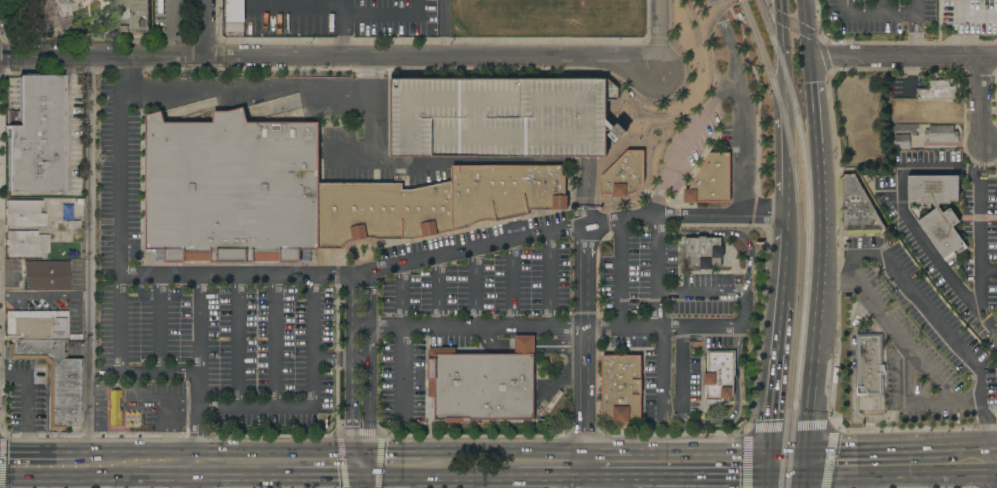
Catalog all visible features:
parking lot: (698, 3)
road: (880, 8)
road: (915, 8)
building: (235, 11)
building: (47, 14)
building: (131, 16)
road: (386, 16)
road: (873, 16)
building: (970, 16)
parking lot: (970, 16)
road: (972, 16)
parking lot: (884, 18)
road: (706, 19)
road: (341, 20)
road: (646, 20)
road: (790, 22)
road: (168, 28)
road: (206, 28)
building: (234, 29)
road: (806, 29)
road: (658, 32)
road: (915, 35)
road: (341, 40)
road: (962, 45)
road: (342, 49)
road: (784, 49)
road: (219, 54)
road: (903, 55)
road: (328, 58)
traffic signals: (810, 59)
road: (383, 68)
building: (938, 89)
road: (318, 91)
road: (814, 103)
road: (741, 105)
building: (941, 108)
road: (980, 113)
building: (501, 117)
building: (918, 117)
parking lot: (493, 119)
building: (941, 133)
building: (34, 135)
road: (685, 138)
building: (900, 141)
road: (989, 142)
parking lot: (689, 144)
road: (787, 156)
road: (350, 163)
road: (120, 166)
building: (624, 175)
building: (711, 180)
road: (650, 182)
building: (231, 189)
building: (436, 203)
building: (856, 207)
building: (937, 209)
building: (24, 212)
road: (764, 214)
parking lot: (979, 214)
road: (900, 215)
road: (729, 233)
road: (767, 234)
railway: (798, 240)
railway: (807, 240)
building: (25, 243)
road: (837, 243)
building: (703, 252)
road: (983, 253)
road: (786, 254)
road: (91, 257)
road: (431, 258)
road: (0, 263)
road: (658, 271)
road: (620, 273)
building: (47, 274)
road: (990, 274)
road: (550, 279)
road: (511, 283)
road: (475, 287)
road: (438, 292)
road: (720, 294)
parking lot: (563, 299)
road: (818, 299)
road: (585, 306)
parking lot: (207, 307)
road: (939, 322)
road: (160, 323)
building: (35, 324)
road: (552, 328)
road: (402, 338)
road: (239, 340)
road: (900, 340)
road: (276, 341)
building: (618, 341)
parking lot: (923, 342)
road: (338, 357)
road: (119, 364)
building: (868, 364)
road: (361, 365)
road: (200, 367)
road: (660, 370)
road: (777, 374)
building: (719, 375)
building: (54, 379)
road: (852, 382)
building: (483, 383)
building: (996, 383)
building: (621, 387)
road: (133, 389)
parking lot: (27, 395)
road: (315, 399)
road: (902, 400)
road: (28, 402)
road: (99, 404)
road: (148, 404)
road: (185, 404)
building: (115, 408)
road: (709, 428)
road: (171, 431)
road: (416, 436)
road: (992, 444)
road: (970, 445)
road: (879, 447)
traffic signals: (807, 451)
road: (787, 452)
traffic signals: (768, 453)
road: (607, 454)
road: (433, 456)
road: (55, 457)
road: (281, 457)
traffic signals: (364, 457)
road: (392, 457)
road: (155, 458)
road: (341, 460)
road: (379, 460)
road: (805, 463)
road: (766, 466)
road: (993, 466)
road: (364, 469)
road: (195, 472)
road: (996, 472)
road: (899, 474)
traffic signals: (804, 476)
road: (784, 478)
traffic signals: (765, 479)
road: (695, 480)
road: (237, 481)
road: (322, 481)
road: (606, 481)
road: (906, 481)
road: (68, 482)
road: (165, 482)
traffic signals: (364, 482)
road: (380, 482)
road: (454, 482)
road: (549, 482)
road: (803, 482)
road: (765, 483)
road: (626, 484)
road: (102, 485)
road: (234, 485)
road: (364, 485)
road: (397, 485)
road: (553, 485)

